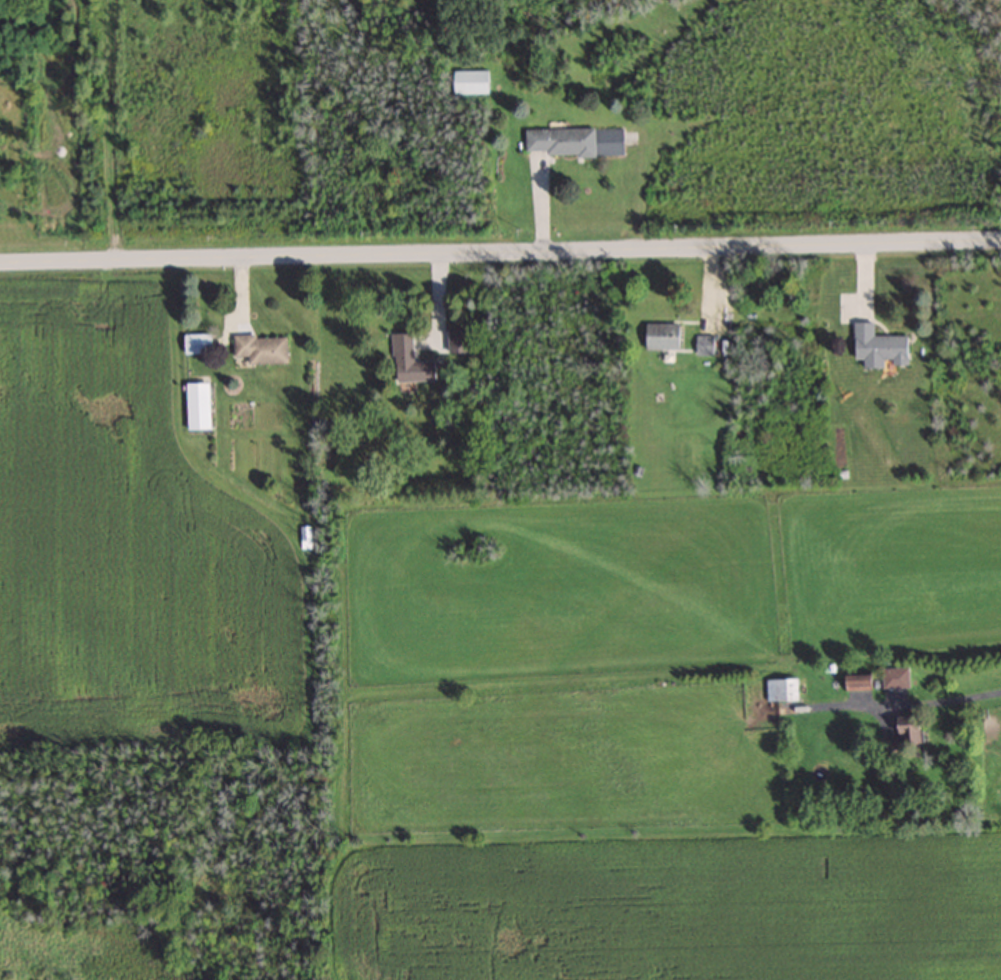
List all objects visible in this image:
building: (468, 82)
building: (557, 141)
road: (500, 240)
building: (660, 336)
building: (455, 342)
building: (193, 344)
building: (705, 345)
building: (876, 348)
building: (257, 350)
building: (407, 362)
building: (194, 406)
building: (305, 538)
building: (893, 678)
building: (854, 681)
building: (779, 689)
road: (921, 703)
building: (904, 730)

